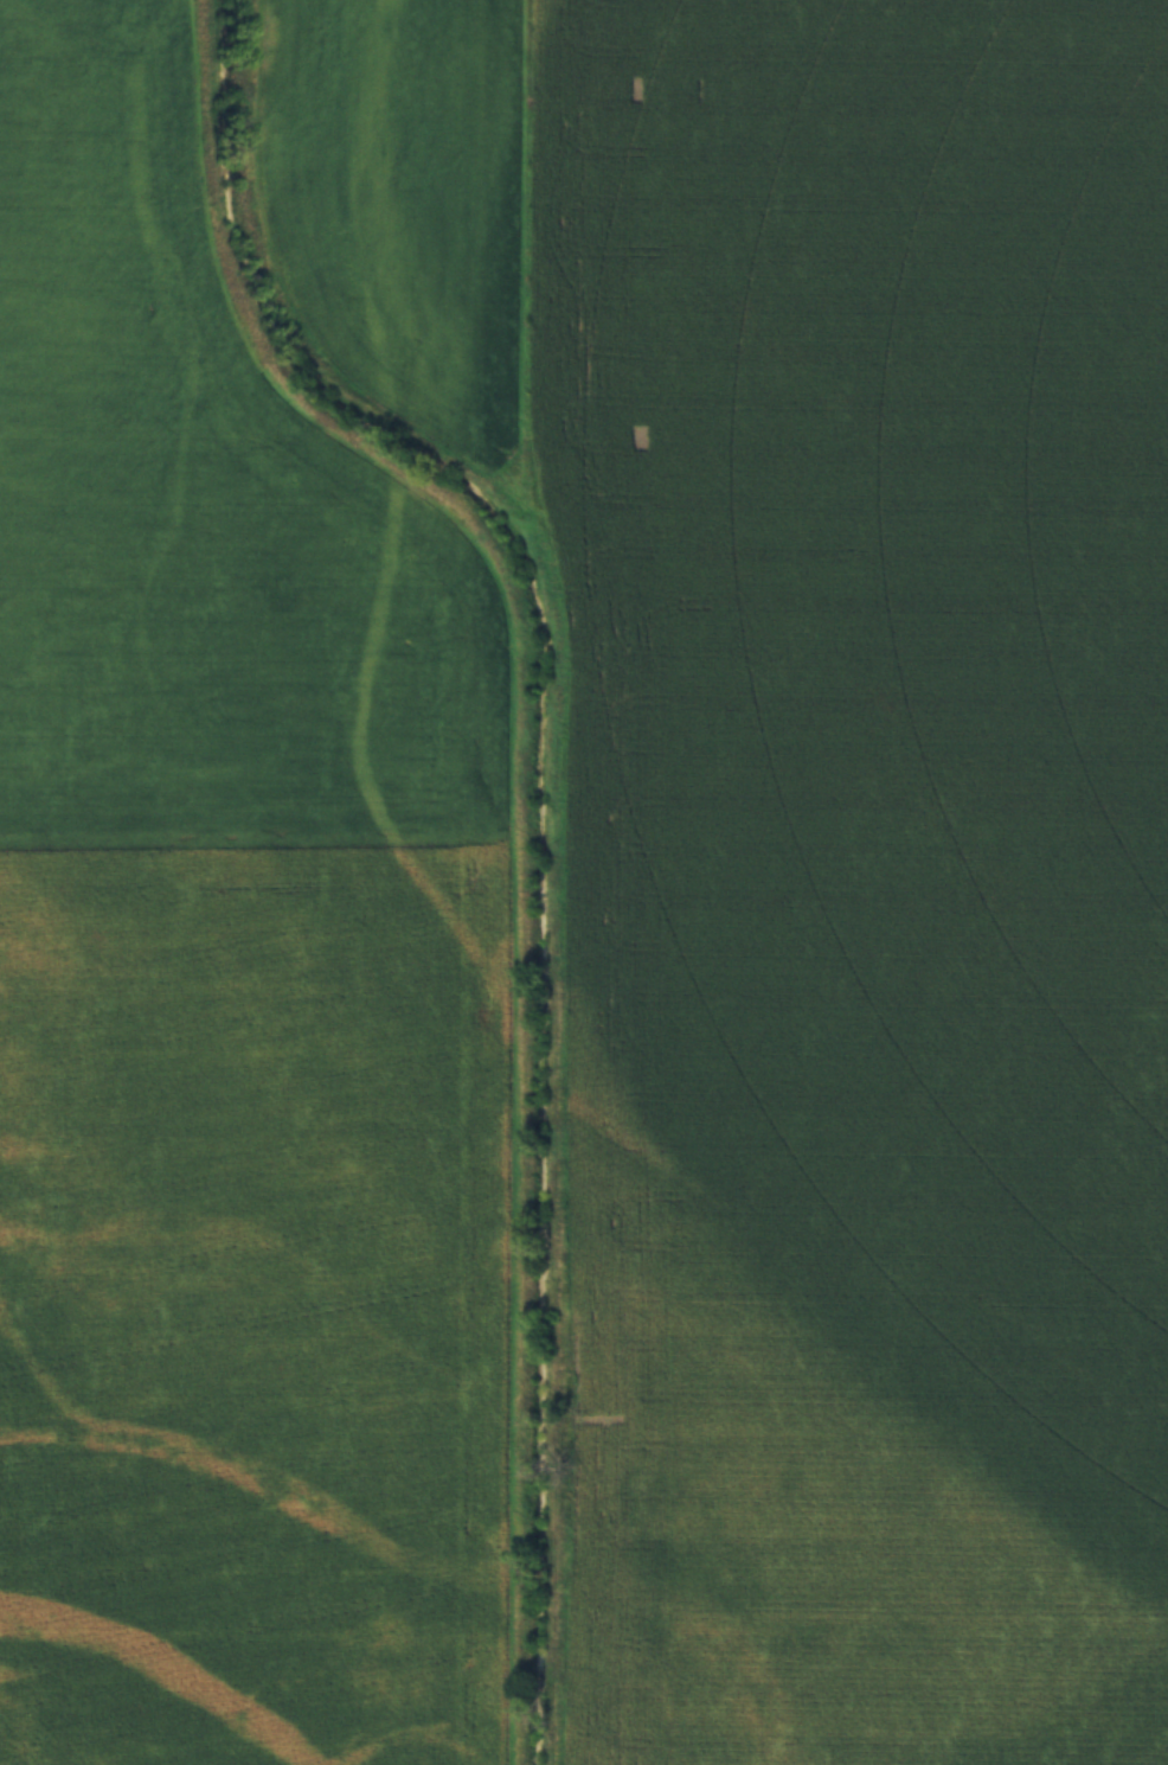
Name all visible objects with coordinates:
river: (557, 823)

